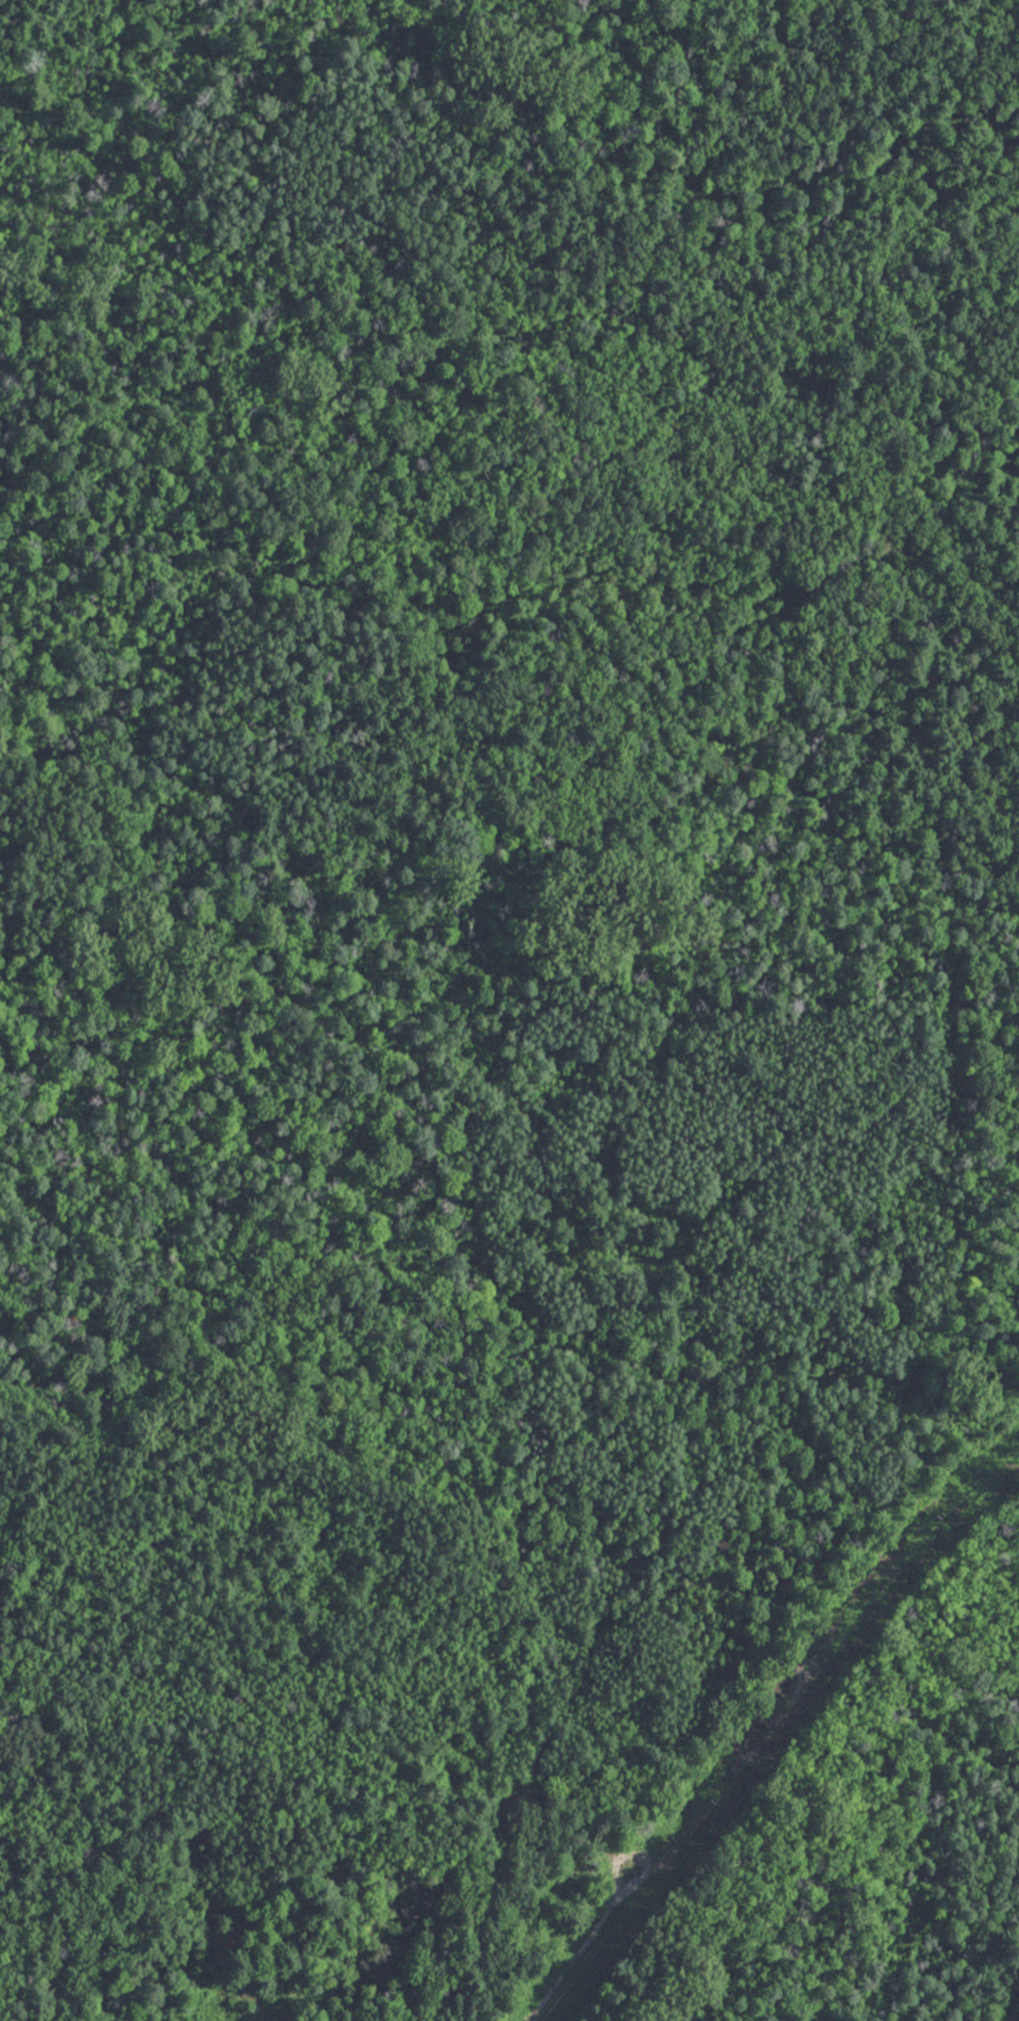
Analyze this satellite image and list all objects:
park: (509, 1010)

